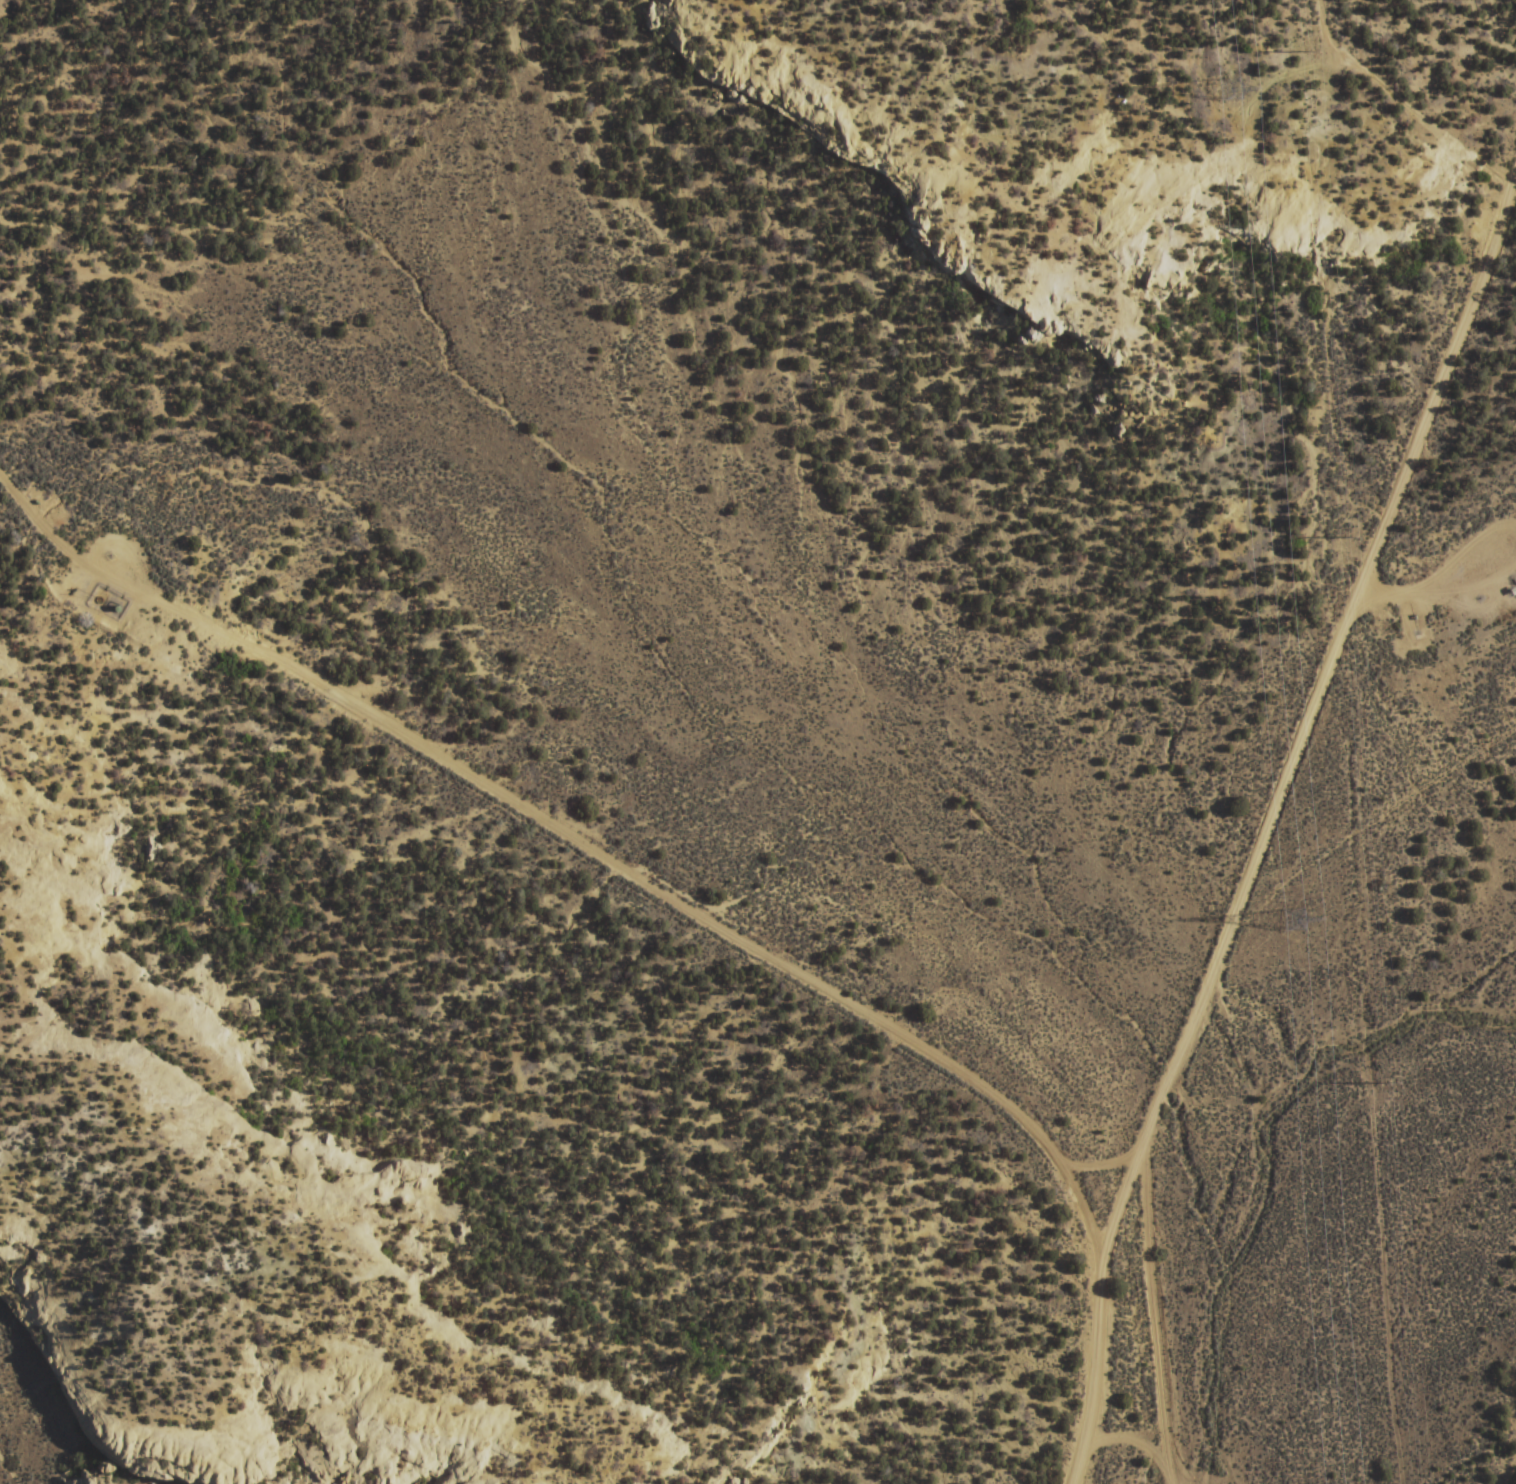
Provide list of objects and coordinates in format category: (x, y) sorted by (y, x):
power tower: (1222, 91)
road: (1273, 836)
road: (693, 923)
power tower: (1292, 923)
river: (1281, 1082)
river: (1194, 1399)

